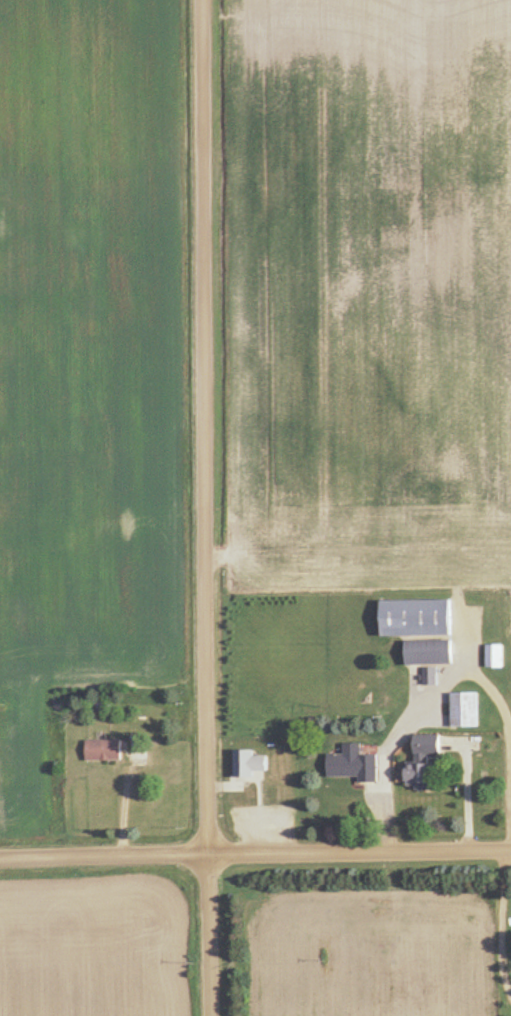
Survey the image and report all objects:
road: (204, 508)
building: (417, 618)
building: (430, 652)
building: (496, 656)
road: (453, 670)
building: (431, 676)
building: (466, 710)
building: (104, 751)
building: (139, 751)
building: (355, 764)
building: (426, 764)
building: (246, 765)
road: (255, 852)

